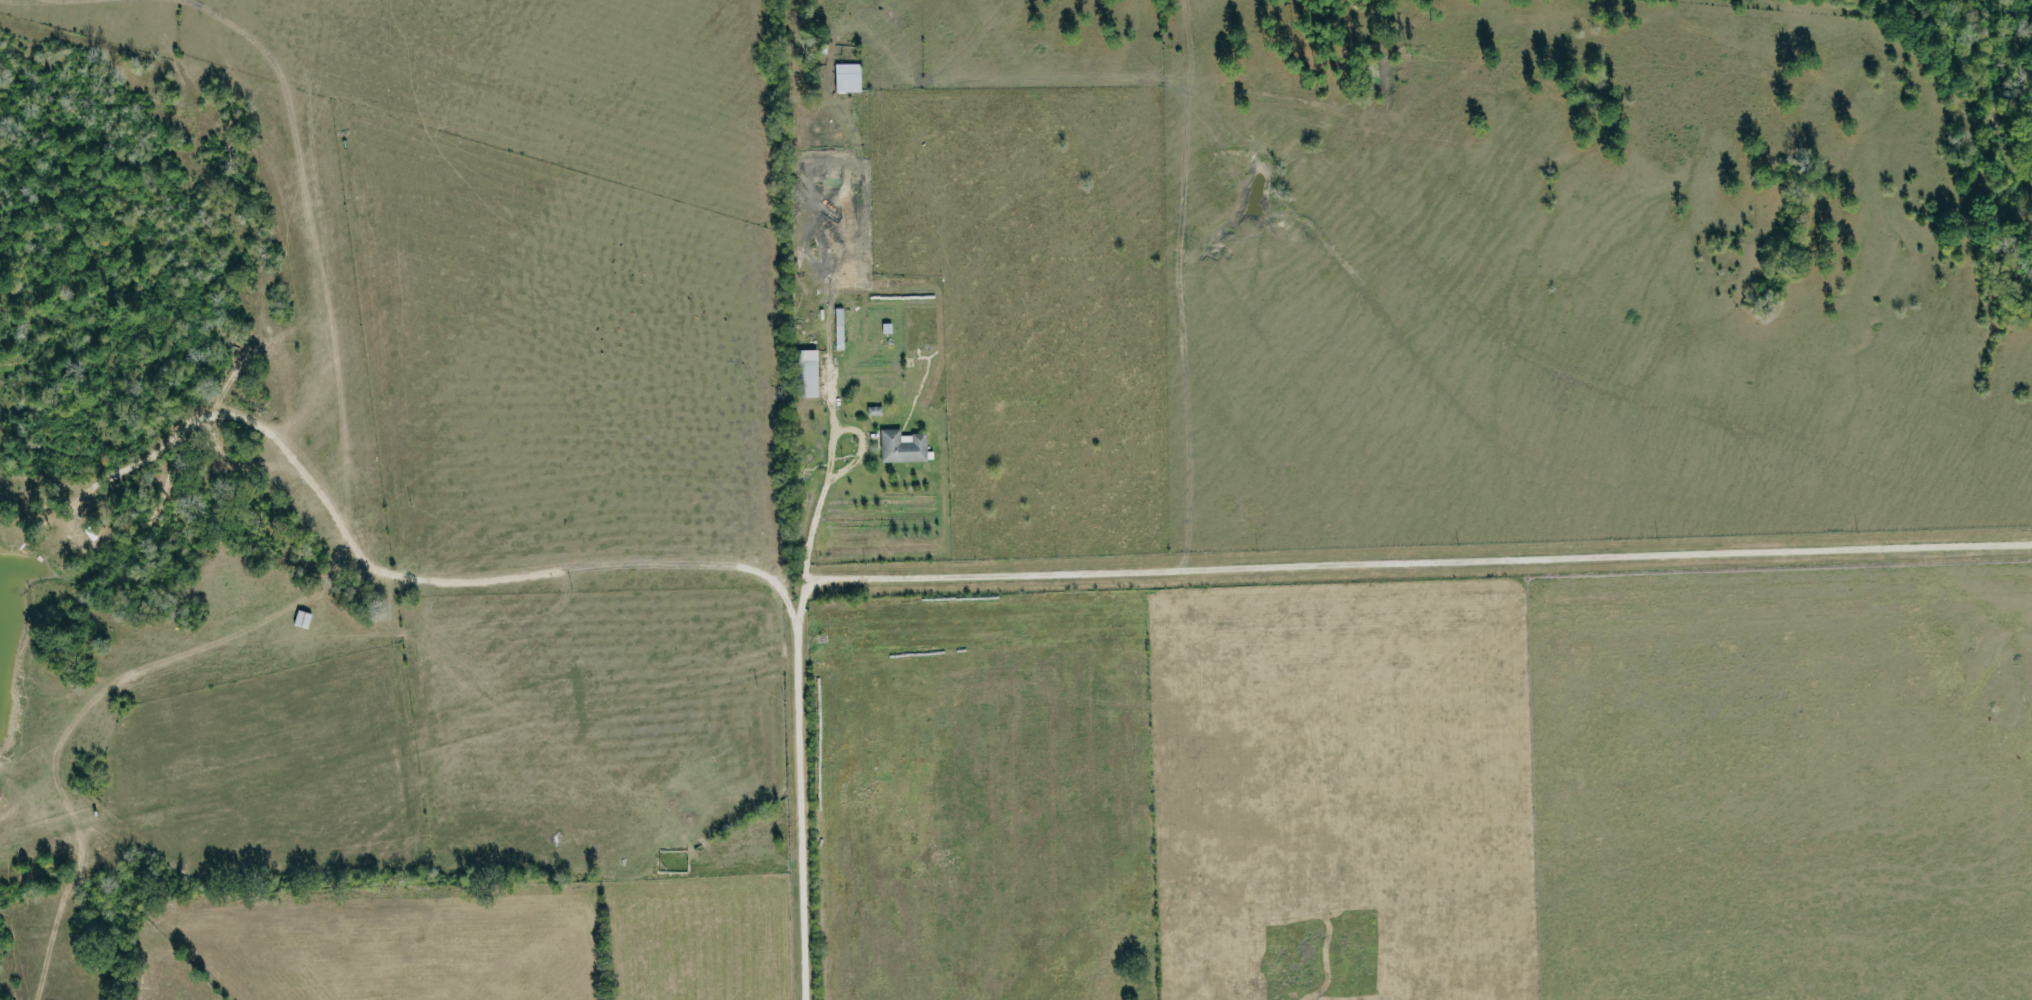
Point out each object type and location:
building: (846, 77)
building: (805, 372)
building: (873, 410)
building: (901, 446)

